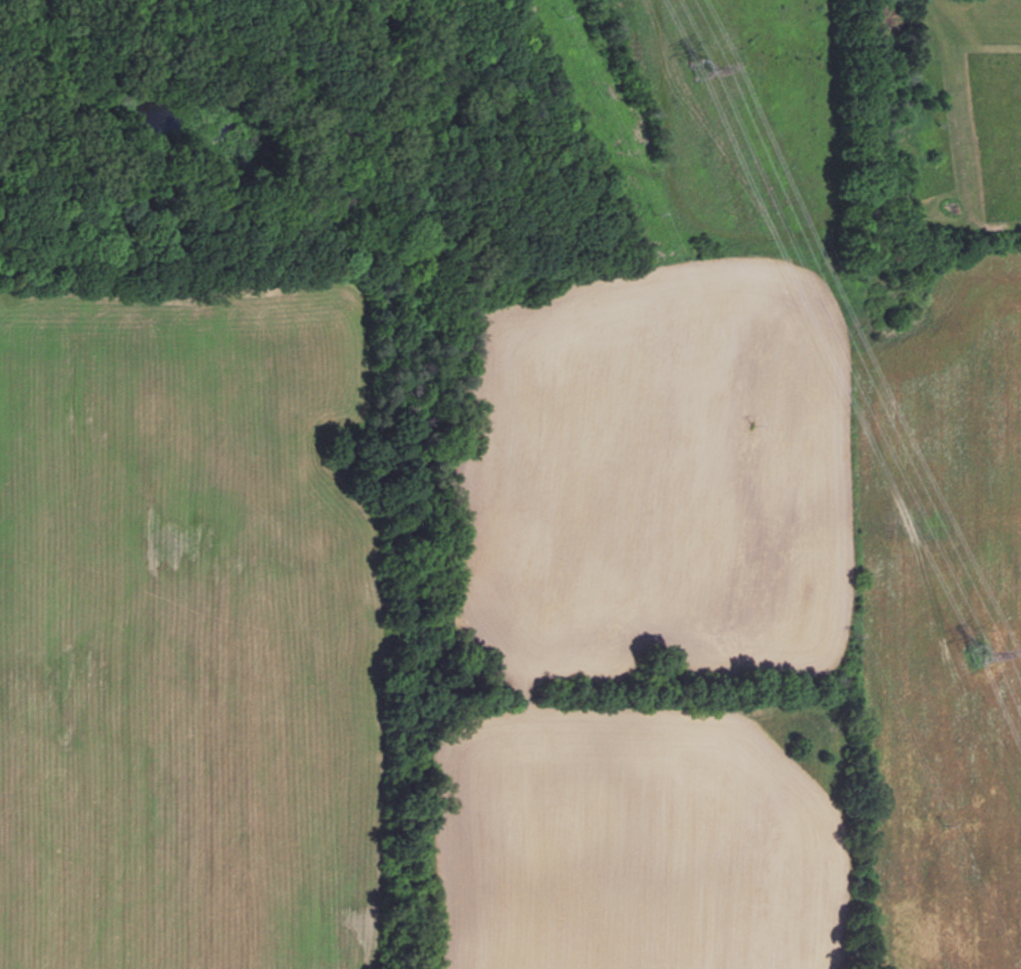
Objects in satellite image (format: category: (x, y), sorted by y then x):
power tower: (700, 66)
power tower: (979, 652)

